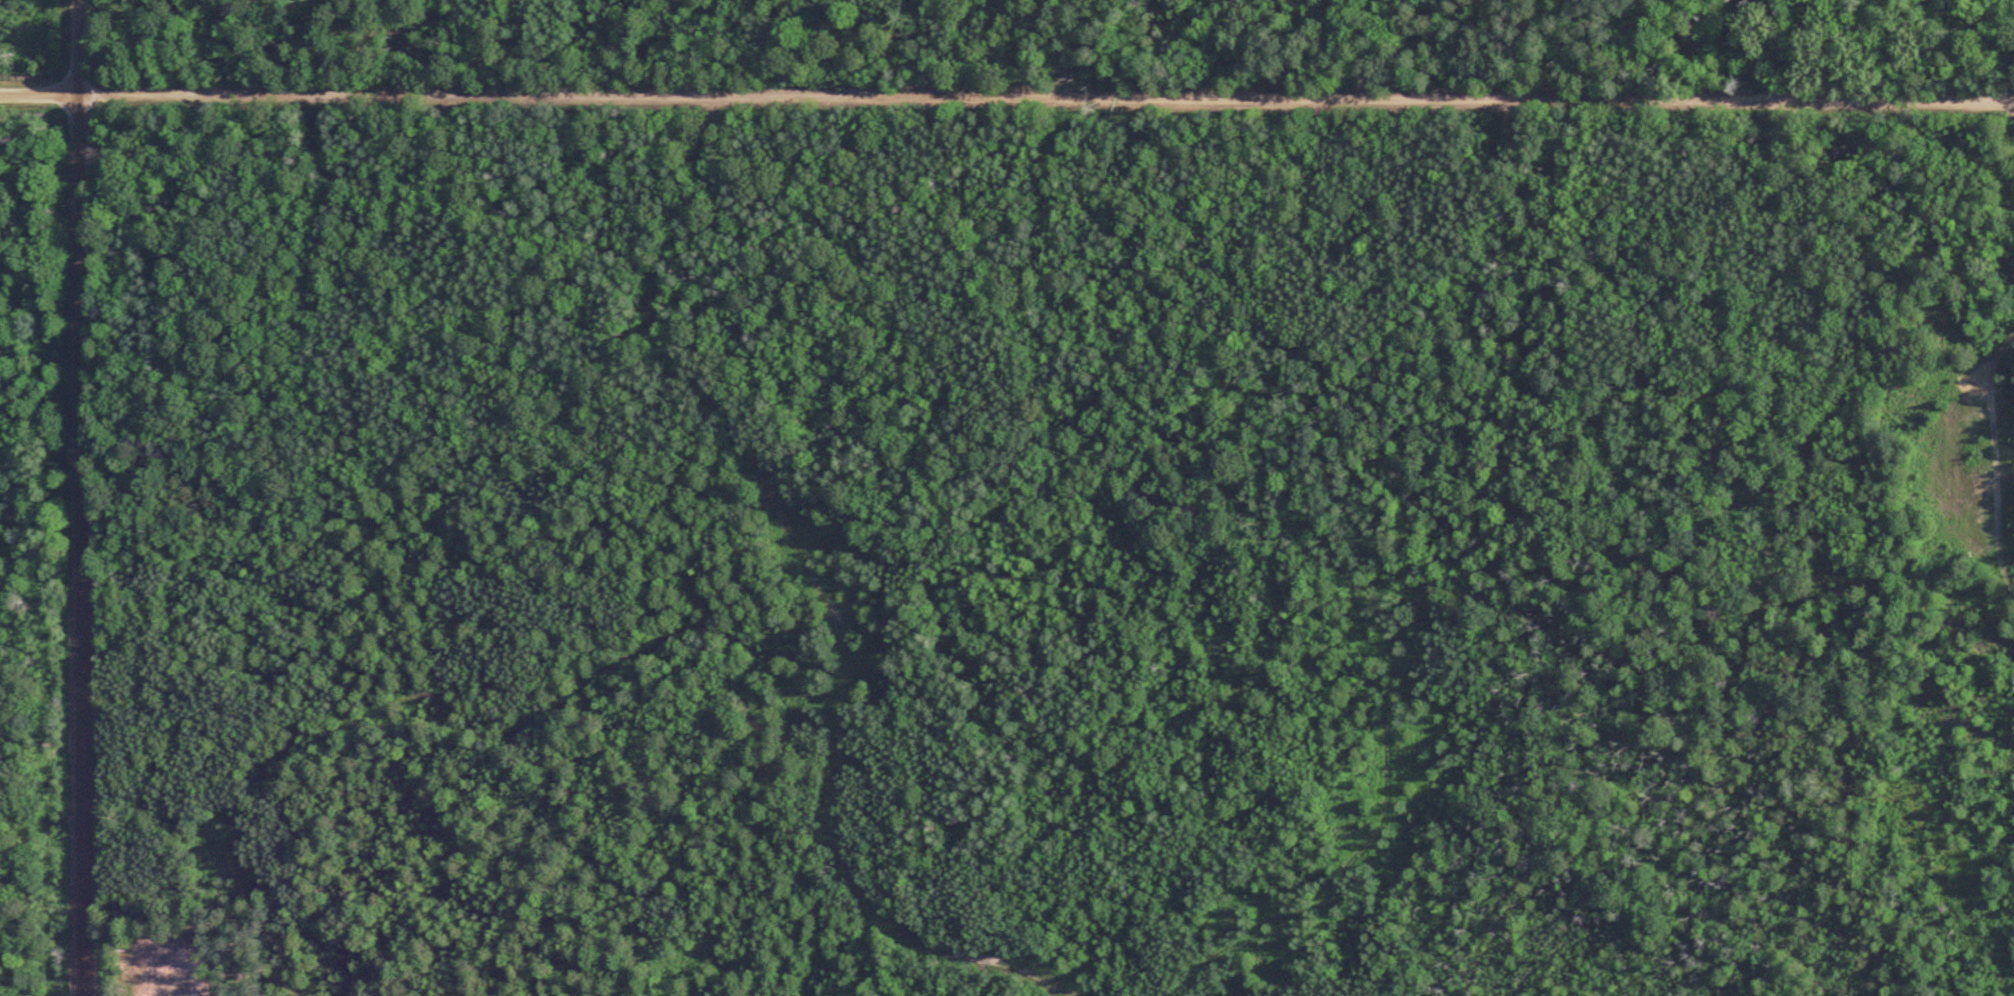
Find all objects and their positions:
road: (39, 95)
road: (1046, 99)
road: (80, 497)

